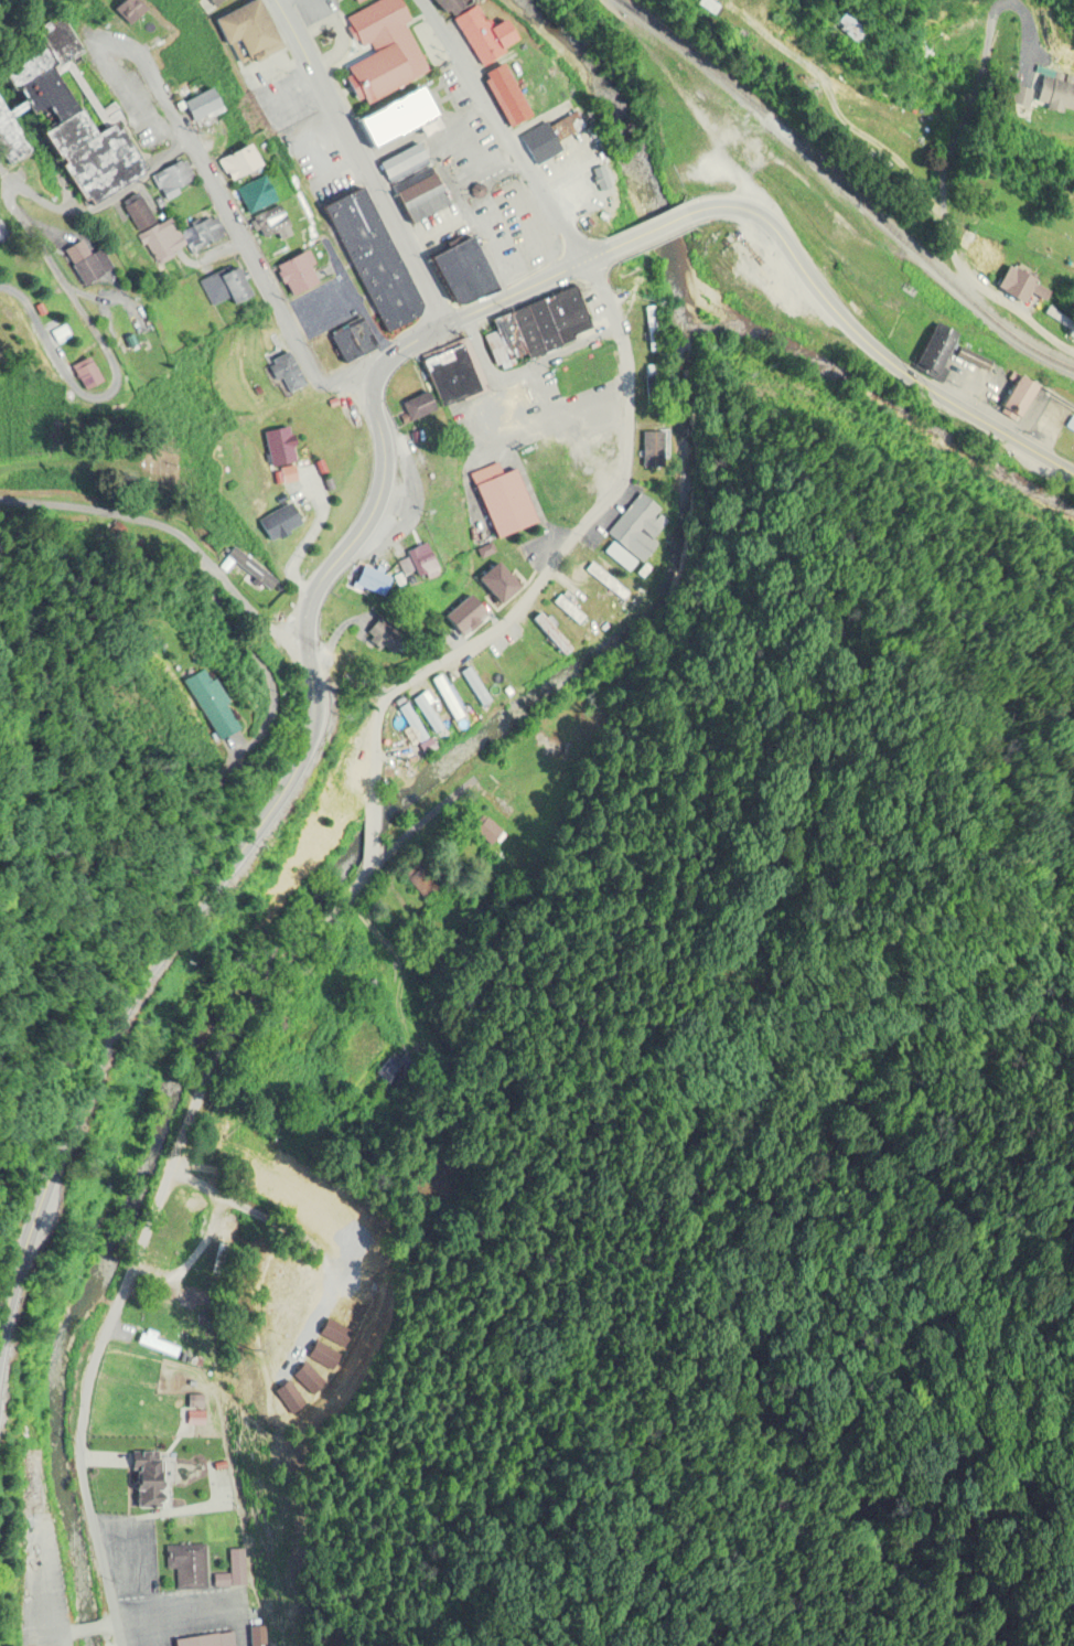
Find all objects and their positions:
building: (356, 1)
building: (215, 2)
building: (452, 6)
road: (289, 8)
building: (131, 10)
building: (855, 24)
building: (248, 32)
building: (485, 35)
road: (339, 39)
building: (380, 50)
building: (1057, 94)
building: (508, 95)
road: (125, 100)
road: (119, 101)
building: (206, 106)
road: (21, 108)
building: (77, 118)
building: (399, 118)
road: (452, 125)
road: (502, 130)
building: (556, 132)
building: (12, 138)
building: (398, 160)
road: (359, 161)
building: (244, 162)
road: (49, 168)
building: (405, 171)
building: (172, 179)
flagpole: (506, 179)
building: (408, 180)
flagpole: (503, 181)
flagpole: (497, 184)
railway: (842, 186)
building: (479, 191)
building: (257, 195)
building: (419, 200)
road: (935, 200)
building: (138, 214)
road: (475, 218)
building: (270, 222)
road: (528, 223)
road: (234, 227)
building: (3, 231)
road: (649, 233)
building: (206, 236)
building: (162, 241)
road: (598, 256)
building: (372, 258)
building: (88, 264)
building: (460, 272)
building: (299, 274)
road: (58, 276)
building: (1019, 281)
building: (225, 287)
flagpole: (563, 288)
road: (515, 293)
road: (356, 297)
road: (319, 308)
building: (567, 313)
building: (544, 325)
building: (527, 332)
building: (511, 339)
building: (351, 340)
road: (401, 348)
road: (868, 348)
building: (937, 349)
building: (496, 350)
road: (523, 366)
building: (288, 372)
building: (97, 373)
building: (454, 375)
road: (536, 393)
building: (1019, 394)
building: (503, 409)
building: (1071, 425)
road: (507, 436)
building: (651, 448)
building: (502, 499)
building: (634, 524)
road: (174, 537)
building: (153, 545)
road: (560, 551)
building: (515, 556)
building: (420, 559)
building: (251, 569)
building: (494, 579)
building: (376, 582)
building: (568, 609)
building: (551, 633)
building: (387, 637)
building: (475, 685)
building: (448, 695)
building: (221, 698)
building: (429, 710)
building: (412, 720)
building: (353, 755)
river: (406, 798)
road: (368, 823)
road: (244, 847)
building: (331, 1209)
road: (140, 1227)
building: (159, 1344)
building: (151, 1475)
building: (187, 1562)
building: (230, 1570)
road: (92, 1628)
road: (66, 1634)
building: (208, 1639)
road: (62, 1640)

